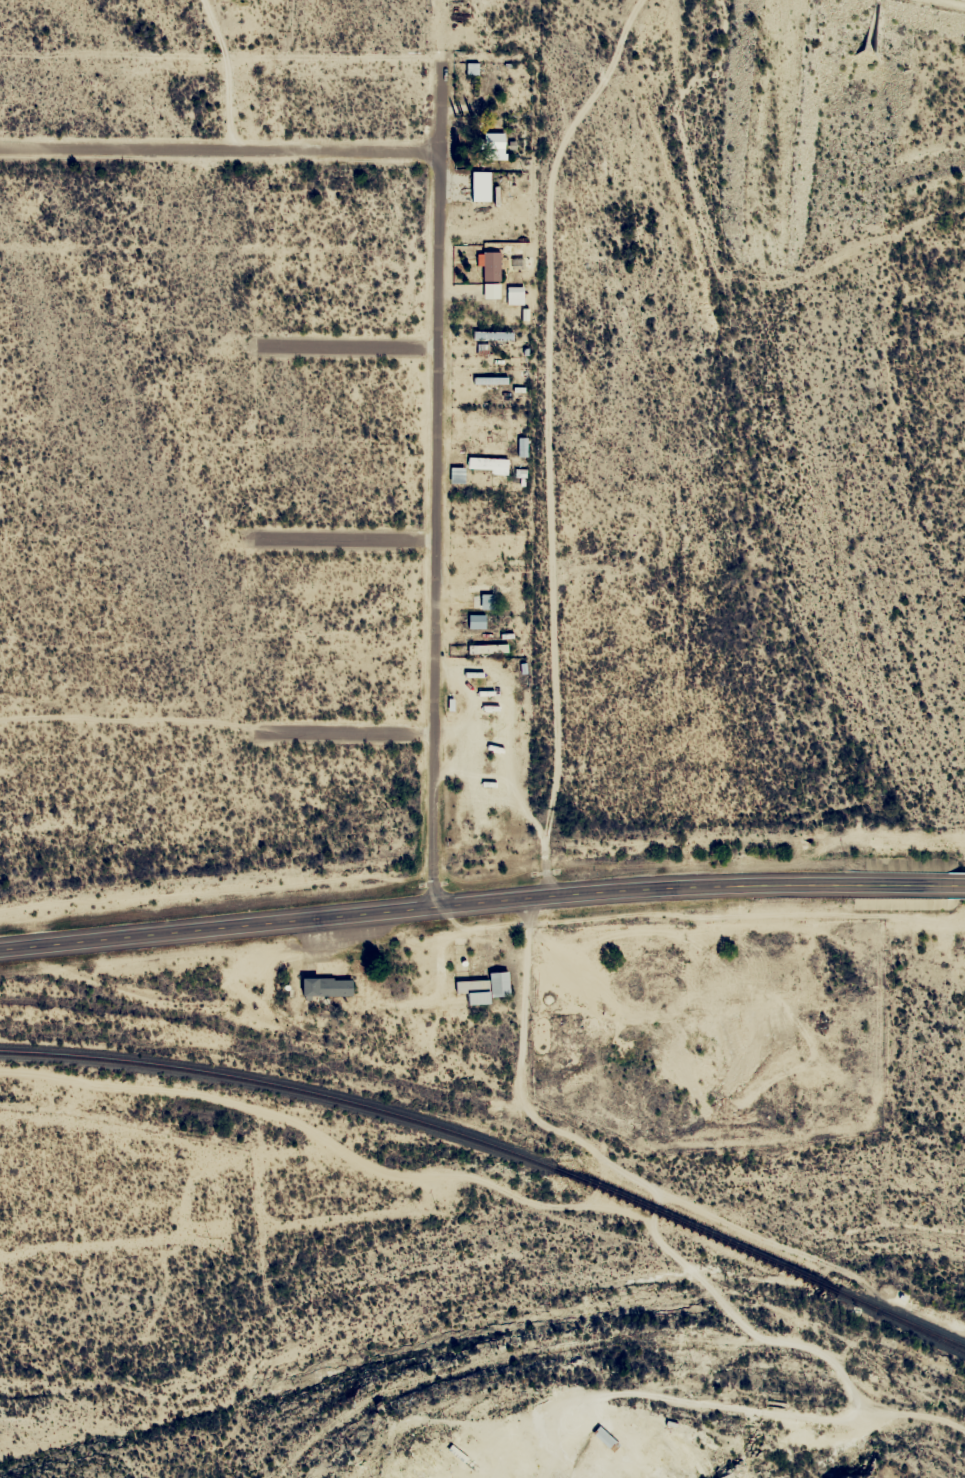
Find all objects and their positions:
building: (492, 145)
road: (217, 148)
building: (479, 186)
building: (489, 266)
building: (513, 298)
road: (341, 347)
building: (485, 464)
building: (455, 475)
road: (435, 478)
road: (342, 552)
building: (486, 592)
building: (475, 621)
road: (343, 721)
road: (560, 859)
road: (627, 889)
road: (145, 934)
building: (323, 987)
building: (482, 988)
building: (570, 1021)
railway: (279, 1085)
railway: (692, 1228)
railway: (900, 1319)
railway: (922, 1332)

